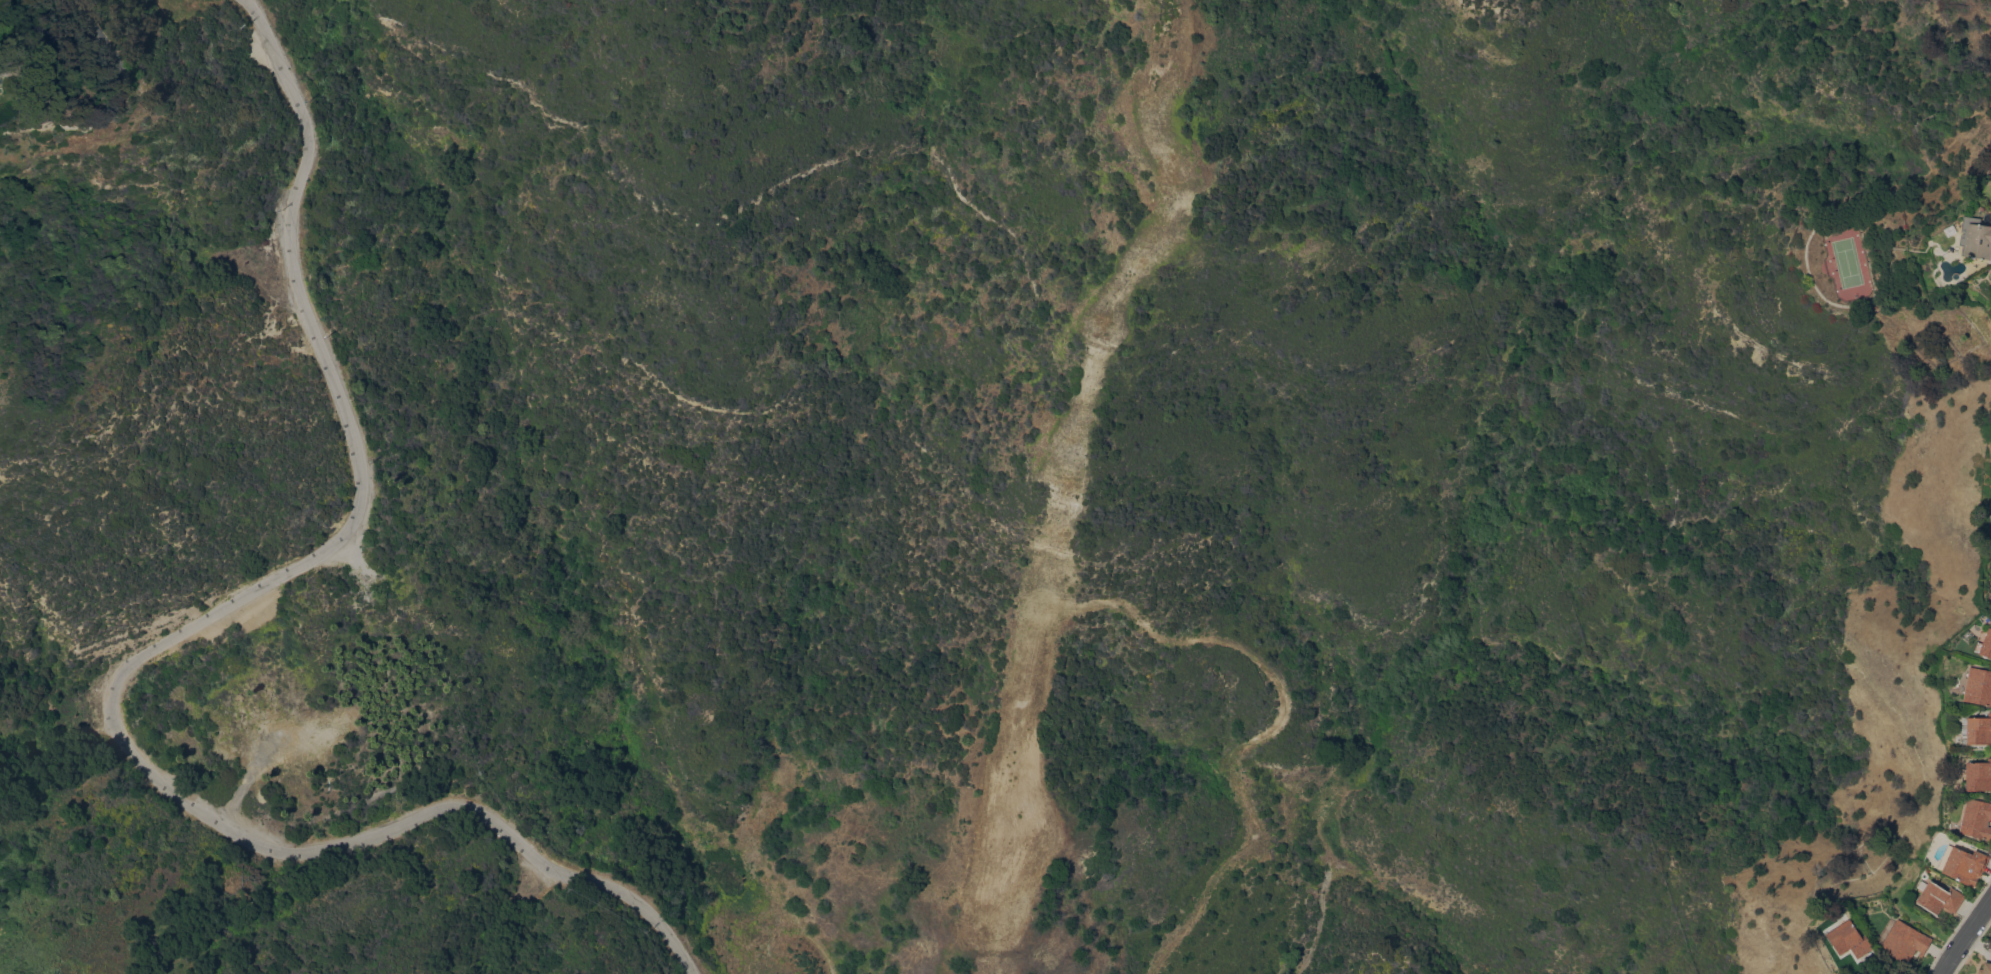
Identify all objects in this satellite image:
building: (6, 68)
road: (296, 102)
building: (1990, 181)
building: (1976, 238)
building: (1990, 261)
park: (1847, 262)
building: (1989, 273)
building: (1989, 505)
building: (1989, 603)
building: (1985, 645)
building: (1978, 686)
building: (1978, 730)
road: (118, 749)
building: (1978, 775)
building: (1976, 818)
building: (1963, 864)
building: (1938, 897)
road: (1965, 936)
building: (1850, 939)
road: (803, 940)
building: (1902, 940)
road: (1309, 943)
building: (1985, 968)

